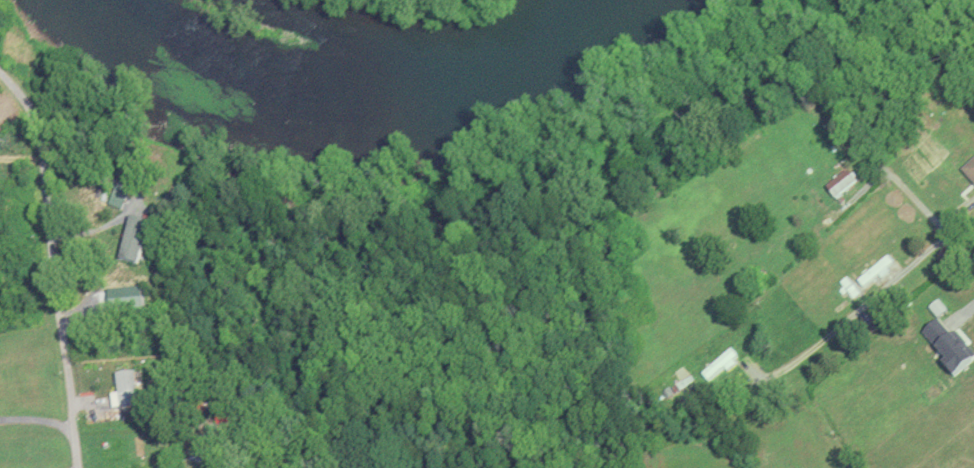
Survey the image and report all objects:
river: (350, 90)
building: (968, 170)
building: (837, 183)
road: (932, 219)
building: (129, 239)
road: (54, 264)
building: (935, 307)
road: (856, 311)
building: (717, 364)
building: (122, 389)

